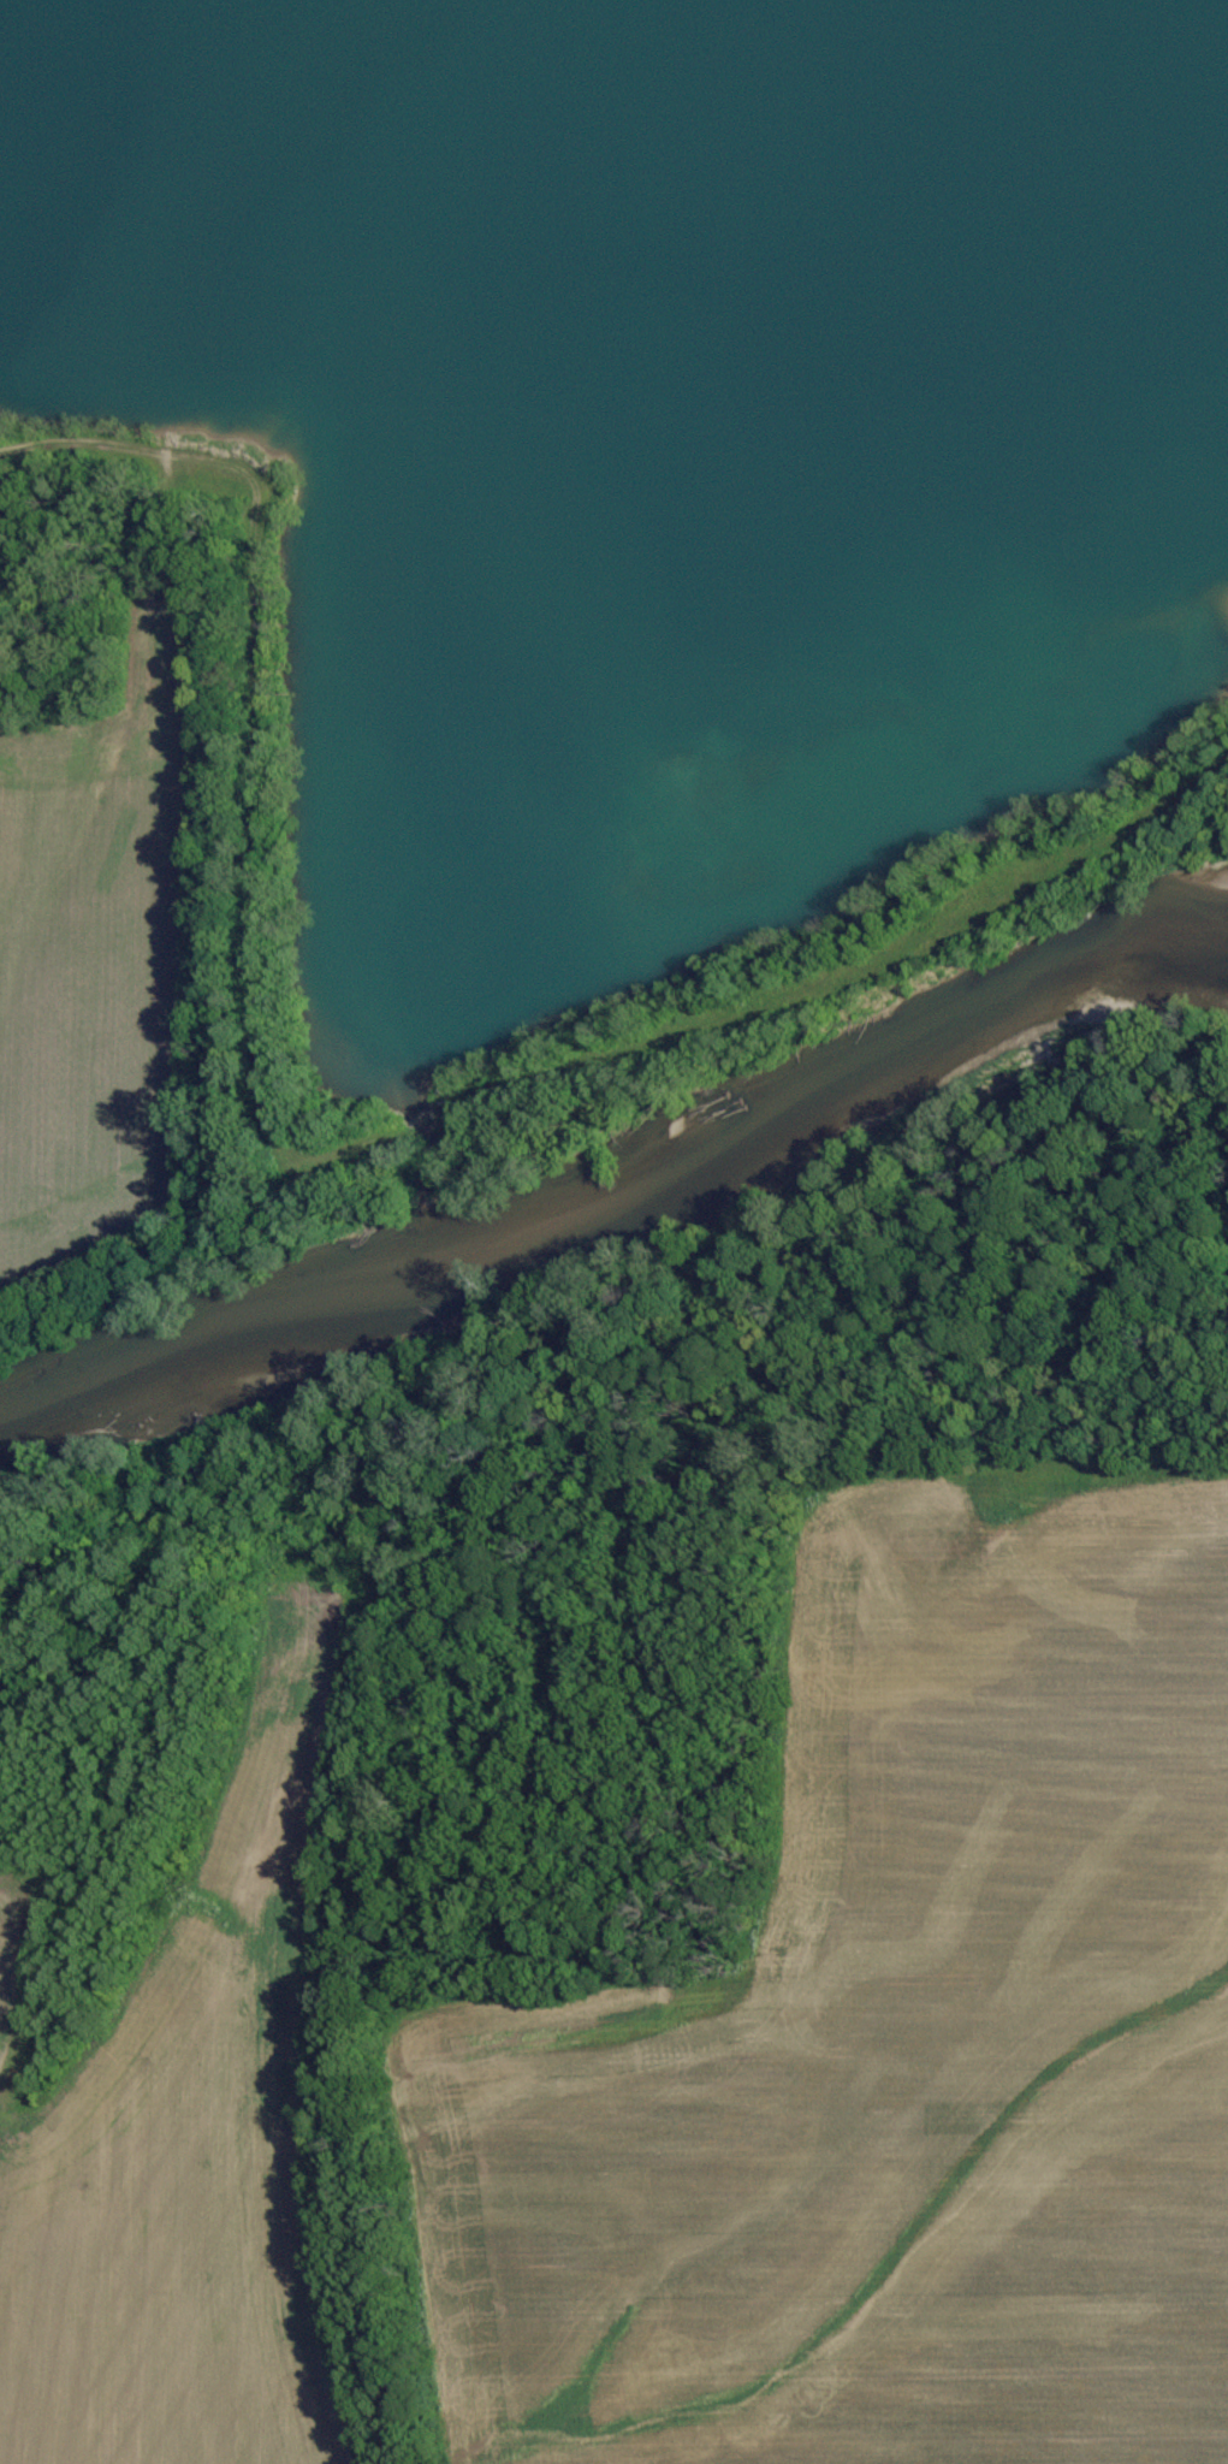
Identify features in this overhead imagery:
river: (619, 1185)

